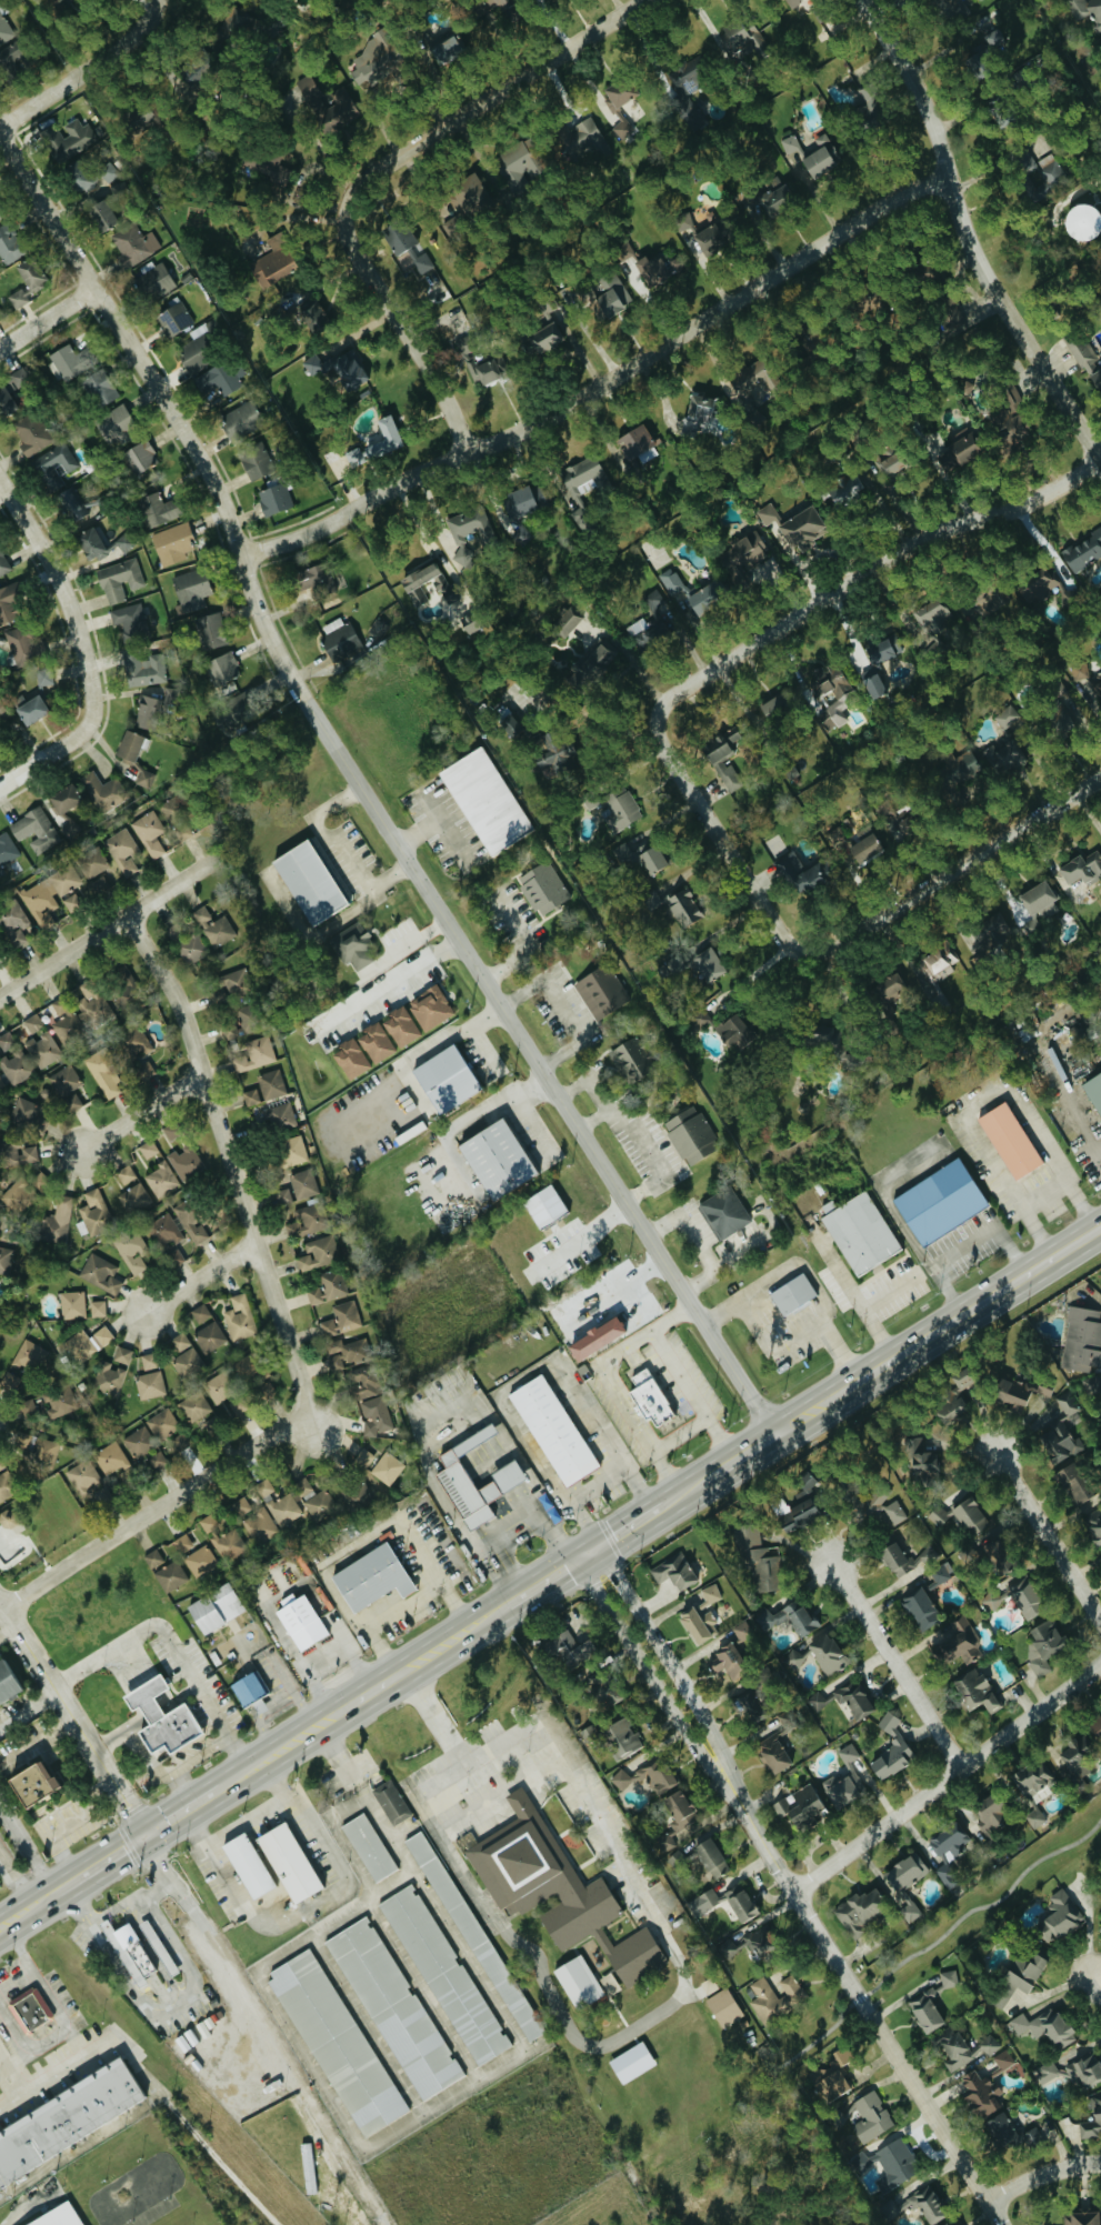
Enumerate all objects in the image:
building: (791, 1)
building: (488, 6)
building: (949, 7)
building: (1087, 10)
building: (234, 22)
building: (4, 30)
building: (743, 39)
building: (995, 39)
building: (444, 50)
building: (12, 56)
road: (86, 69)
building: (689, 91)
building: (312, 96)
road: (484, 99)
building: (867, 108)
building: (334, 117)
building: (70, 140)
building: (583, 140)
building: (793, 147)
building: (821, 158)
building: (1025, 162)
building: (518, 163)
building: (272, 166)
building: (110, 173)
building: (1045, 177)
building: (80, 179)
building: (468, 194)
building: (768, 198)
building: (101, 214)
building: (1, 217)
building: (683, 222)
building: (1082, 222)
road: (967, 237)
building: (398, 238)
building: (709, 240)
building: (136, 243)
building: (9, 245)
building: (623, 250)
building: (654, 269)
building: (426, 274)
building: (26, 281)
building: (156, 282)
building: (611, 295)
building: (311, 314)
building: (174, 317)
road: (47, 319)
building: (953, 320)
road: (404, 331)
building: (547, 338)
building: (460, 345)
building: (196, 353)
building: (1084, 357)
building: (68, 361)
building: (313, 364)
building: (348, 369)
building: (483, 371)
building: (219, 379)
building: (1095, 380)
building: (22, 381)
road: (602, 382)
building: (965, 387)
building: (99, 388)
building: (1013, 394)
building: (6, 403)
building: (114, 422)
building: (241, 422)
building: (1009, 430)
building: (32, 433)
road: (187, 434)
building: (386, 437)
building: (634, 442)
building: (961, 450)
building: (140, 457)
building: (356, 457)
building: (257, 460)
building: (889, 465)
building: (56, 467)
road: (506, 473)
building: (581, 479)
building: (842, 491)
building: (274, 498)
building: (72, 503)
building: (519, 503)
building: (158, 510)
building: (768, 514)
road: (421, 528)
building: (800, 530)
building: (470, 532)
building: (90, 542)
building: (126, 542)
building: (172, 544)
building: (1083, 552)
building: (743, 558)
building: (3, 564)
road: (860, 572)
building: (314, 579)
building: (119, 580)
building: (671, 581)
building: (423, 582)
building: (1042, 588)
building: (191, 590)
road: (69, 593)
building: (992, 600)
building: (9, 604)
building: (933, 614)
building: (131, 620)
building: (564, 622)
building: (649, 624)
building: (470, 628)
building: (209, 631)
building: (340, 640)
building: (22, 647)
building: (884, 649)
building: (223, 669)
building: (144, 670)
building: (1080, 671)
building: (827, 684)
building: (872, 684)
building: (1095, 686)
building: (28, 708)
building: (774, 708)
building: (147, 711)
building: (233, 713)
building: (835, 714)
building: (1008, 716)
building: (4, 719)
building: (1059, 719)
building: (827, 724)
building: (513, 726)
building: (131, 744)
road: (47, 752)
building: (722, 754)
building: (554, 755)
building: (1003, 756)
building: (965, 768)
building: (147, 779)
building: (103, 791)
building: (484, 800)
building: (64, 806)
building: (171, 808)
building: (620, 808)
building: (36, 830)
road: (419, 831)
building: (150, 832)
building: (865, 848)
road: (336, 849)
building: (7, 851)
building: (123, 851)
road: (735, 856)
building: (650, 859)
building: (93, 862)
road: (962, 865)
building: (1081, 866)
building: (800, 872)
building: (308, 881)
building: (542, 886)
building: (51, 893)
building: (1039, 900)
building: (72, 902)
building: (683, 906)
road: (113, 918)
building: (14, 923)
building: (213, 926)
building: (991, 932)
building: (0, 940)
building: (356, 946)
building: (191, 948)
road: (519, 951)
building: (940, 960)
building: (708, 964)
road: (749, 974)
building: (126, 981)
building: (233, 981)
road: (390, 983)
building: (601, 990)
building: (889, 991)
building: (221, 998)
building: (93, 1004)
building: (430, 1008)
road: (562, 1009)
building: (64, 1016)
building: (698, 1021)
building: (34, 1023)
building: (239, 1023)
building: (401, 1026)
building: (735, 1030)
road: (452, 1033)
building: (827, 1040)
building: (376, 1042)
building: (136, 1043)
building: (43, 1050)
building: (257, 1054)
building: (351, 1059)
building: (629, 1059)
building: (14, 1060)
building: (104, 1074)
building: (446, 1079)
building: (1, 1083)
road: (527, 1083)
building: (67, 1088)
building: (1093, 1090)
road: (603, 1091)
road: (552, 1092)
building: (251, 1096)
road: (476, 1109)
road: (144, 1110)
building: (29, 1113)
road: (1080, 1119)
building: (690, 1134)
building: (1009, 1140)
building: (149, 1149)
building: (292, 1150)
building: (22, 1154)
building: (496, 1159)
road: (652, 1159)
building: (187, 1163)
building: (127, 1174)
building: (162, 1180)
building: (304, 1184)
road: (1044, 1193)
building: (20, 1194)
building: (283, 1196)
building: (136, 1199)
building: (939, 1202)
building: (543, 1205)
building: (723, 1212)
building: (96, 1213)
building: (307, 1221)
building: (57, 1222)
building: (194, 1225)
building: (166, 1231)
building: (860, 1233)
road: (963, 1245)
building: (133, 1252)
building: (319, 1253)
building: (174, 1255)
building: (6, 1260)
building: (101, 1273)
road: (203, 1273)
building: (328, 1287)
building: (792, 1293)
building: (73, 1304)
building: (98, 1309)
building: (201, 1313)
road: (672, 1316)
building: (240, 1317)
building: (341, 1319)
road: (300, 1325)
building: (211, 1337)
building: (90, 1340)
building: (1082, 1340)
building: (182, 1341)
road: (783, 1347)
building: (347, 1352)
building: (123, 1354)
building: (30, 1356)
road: (894, 1356)
building: (150, 1361)
building: (189, 1363)
road: (521, 1374)
building: (12, 1380)
building: (110, 1380)
building: (151, 1384)
building: (221, 1387)
building: (1012, 1392)
road: (694, 1393)
building: (953, 1396)
building: (649, 1397)
building: (61, 1401)
building: (370, 1401)
road: (619, 1402)
building: (29, 1406)
building: (198, 1406)
building: (164, 1423)
building: (552, 1430)
building: (1061, 1431)
road: (681, 1434)
building: (141, 1442)
building: (47, 1452)
building: (363, 1457)
building: (112, 1459)
building: (921, 1459)
building: (158, 1460)
building: (1, 1465)
building: (388, 1467)
building: (507, 1476)
building: (84, 1479)
building: (1074, 1483)
building: (8, 1485)
road: (597, 1486)
building: (359, 1495)
building: (316, 1500)
building: (280, 1504)
building: (799, 1507)
building: (884, 1510)
road: (642, 1515)
building: (939, 1515)
building: (970, 1516)
building: (12, 1521)
building: (256, 1521)
road: (512, 1522)
building: (1094, 1527)
road: (1048, 1535)
building: (224, 1539)
building: (182, 1543)
traffic signals: (597, 1545)
building: (987, 1549)
building: (757, 1556)
building: (923, 1556)
building: (154, 1558)
traffic signals: (577, 1560)
building: (202, 1561)
building: (674, 1572)
building: (941, 1573)
building: (171, 1576)
building: (370, 1577)
road: (533, 1586)
building: (1024, 1598)
building: (991, 1600)
road: (404, 1605)
building: (216, 1608)
building: (921, 1608)
building: (702, 1616)
building: (790, 1620)
building: (300, 1621)
road: (7, 1634)
road: (136, 1634)
building: (1043, 1645)
building: (959, 1646)
road: (440, 1647)
building: (569, 1648)
building: (825, 1652)
building: (793, 1657)
building: (729, 1662)
road: (669, 1664)
road: (895, 1666)
road: (649, 1677)
building: (8, 1683)
building: (249, 1687)
building: (975, 1691)
road: (181, 1698)
building: (847, 1700)
building: (748, 1706)
road: (28, 1711)
road: (153, 1713)
road: (439, 1716)
building: (160, 1717)
road: (74, 1721)
road: (321, 1724)
road: (222, 1727)
road: (118, 1734)
building: (624, 1737)
road: (40, 1742)
building: (891, 1750)
building: (1071, 1751)
building: (773, 1754)
road: (197, 1756)
road: (158, 1766)
building: (657, 1777)
building: (1033, 1777)
road: (947, 1778)
building: (621, 1780)
building: (844, 1780)
road: (581, 1782)
building: (29, 1783)
road: (208, 1792)
road: (501, 1793)
building: (391, 1802)
building: (800, 1806)
road: (266, 1808)
building: (990, 1813)
building: (1035, 1817)
road: (164, 1823)
traffic signals: (143, 1837)
building: (950, 1841)
building: (369, 1847)
road: (26, 1853)
building: (711, 1857)
building: (288, 1863)
road: (98, 1865)
building: (247, 1865)
building: (949, 1876)
road: (18, 1877)
building: (903, 1884)
building: (554, 1890)
building: (728, 1903)
building: (862, 1908)
road: (27, 1911)
building: (1059, 1916)
road: (291, 1917)
road: (389, 1935)
building: (474, 1935)
building: (763, 1941)
building: (729, 1948)
building: (130, 1952)
road: (540, 1966)
building: (446, 1974)
building: (1018, 1976)
building: (950, 1978)
building: (578, 1982)
road: (1097, 1983)
building: (609, 1984)
road: (865, 1992)
building: (774, 1997)
road: (192, 2005)
building: (723, 2007)
road: (864, 2007)
building: (30, 2008)
building: (396, 2008)
building: (927, 2013)
road: (63, 2015)
road: (507, 2018)
building: (1044, 2027)
road: (74, 2042)
building: (338, 2043)
building: (965, 2049)
road: (278, 2052)
building: (841, 2055)
building: (1077, 2056)
building: (632, 2063)
road: (20, 2067)
building: (1047, 2072)
building: (1084, 2072)
road: (8, 2086)
road: (161, 2086)
building: (831, 2086)
building: (979, 2093)
building: (64, 2118)
building: (1092, 2119)
building: (863, 2122)
building: (1000, 2129)
building: (1033, 2137)
building: (891, 2163)
road: (1040, 2173)
building: (927, 2205)
building: (59, 2216)
building: (1082, 2217)
building: (945, 2224)

